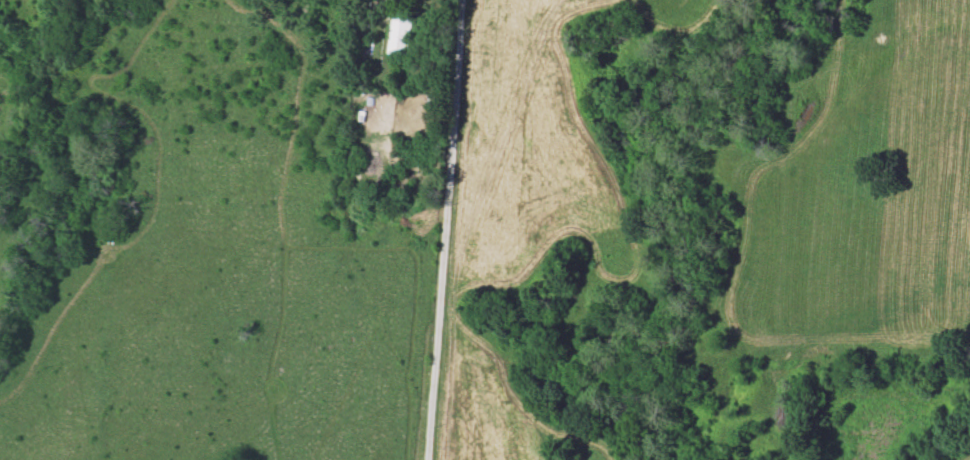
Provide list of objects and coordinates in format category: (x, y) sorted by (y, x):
building: (401, 36)
road: (444, 230)

